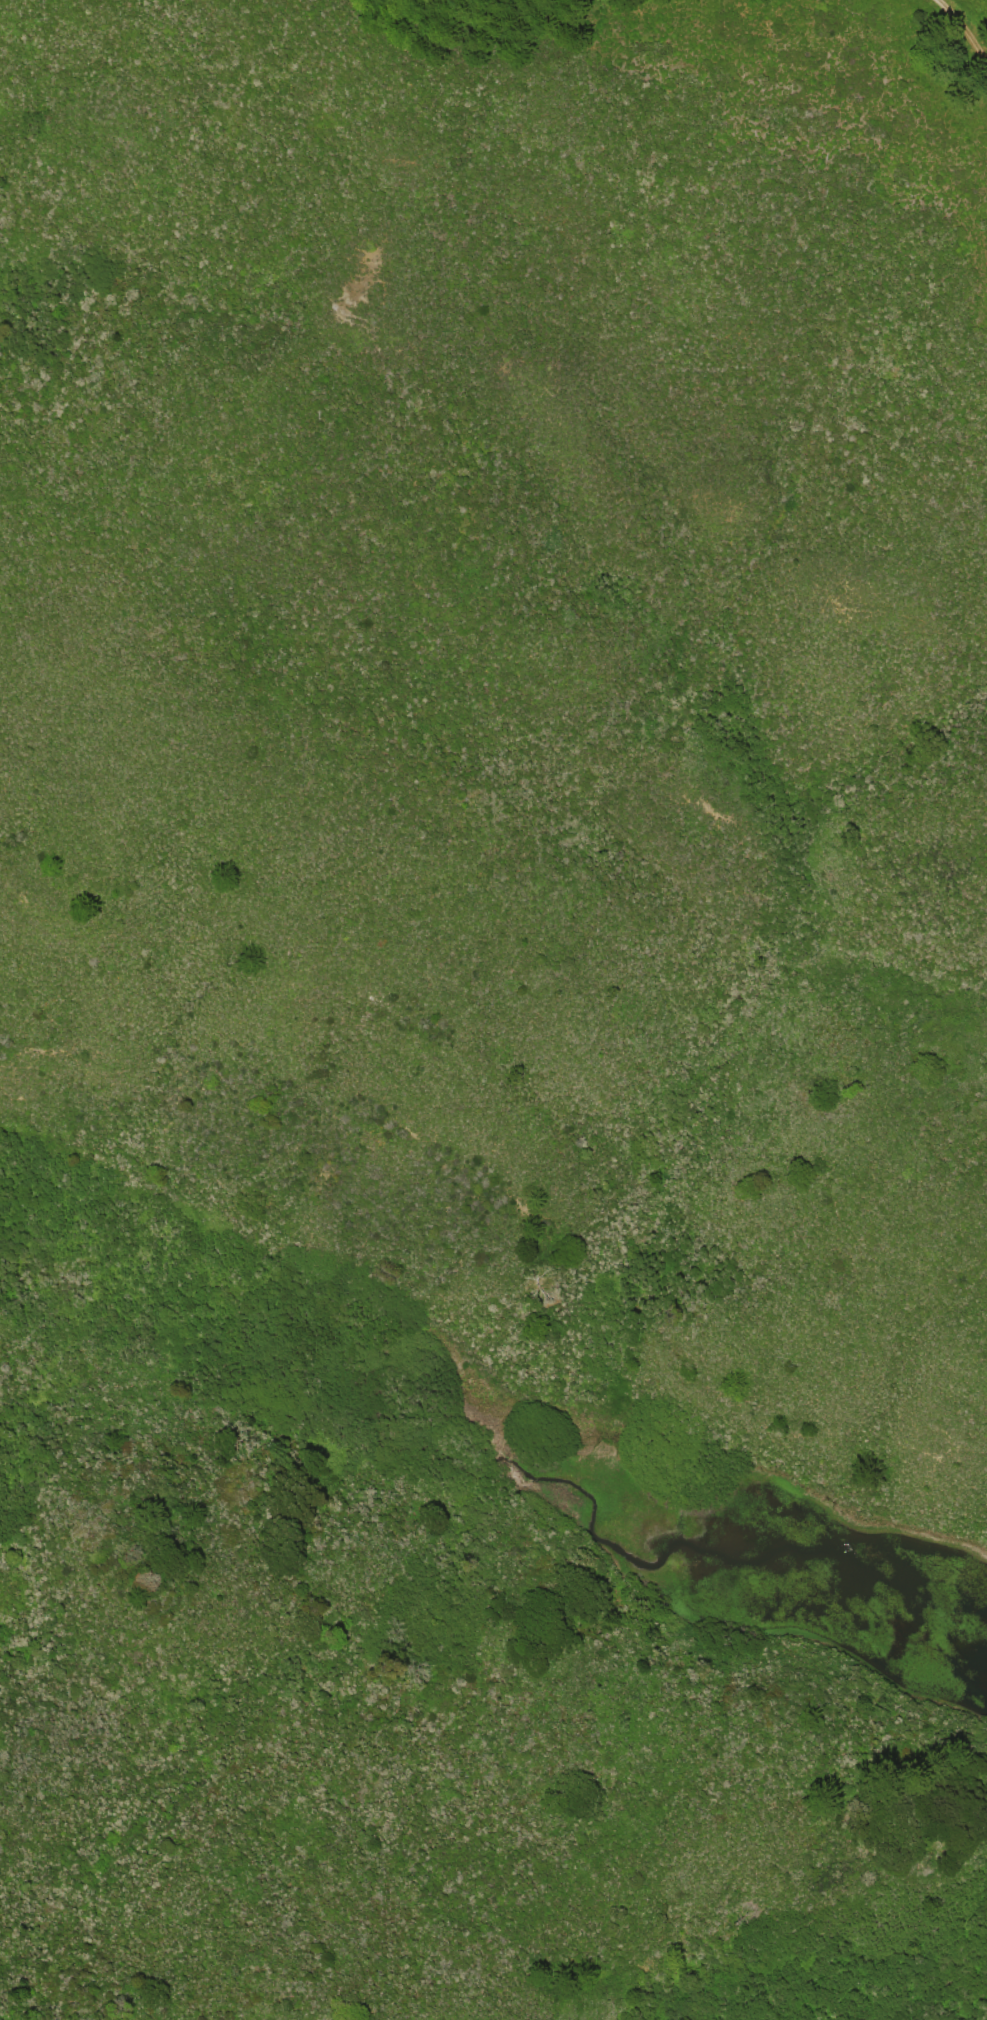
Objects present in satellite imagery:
road: (967, 30)

